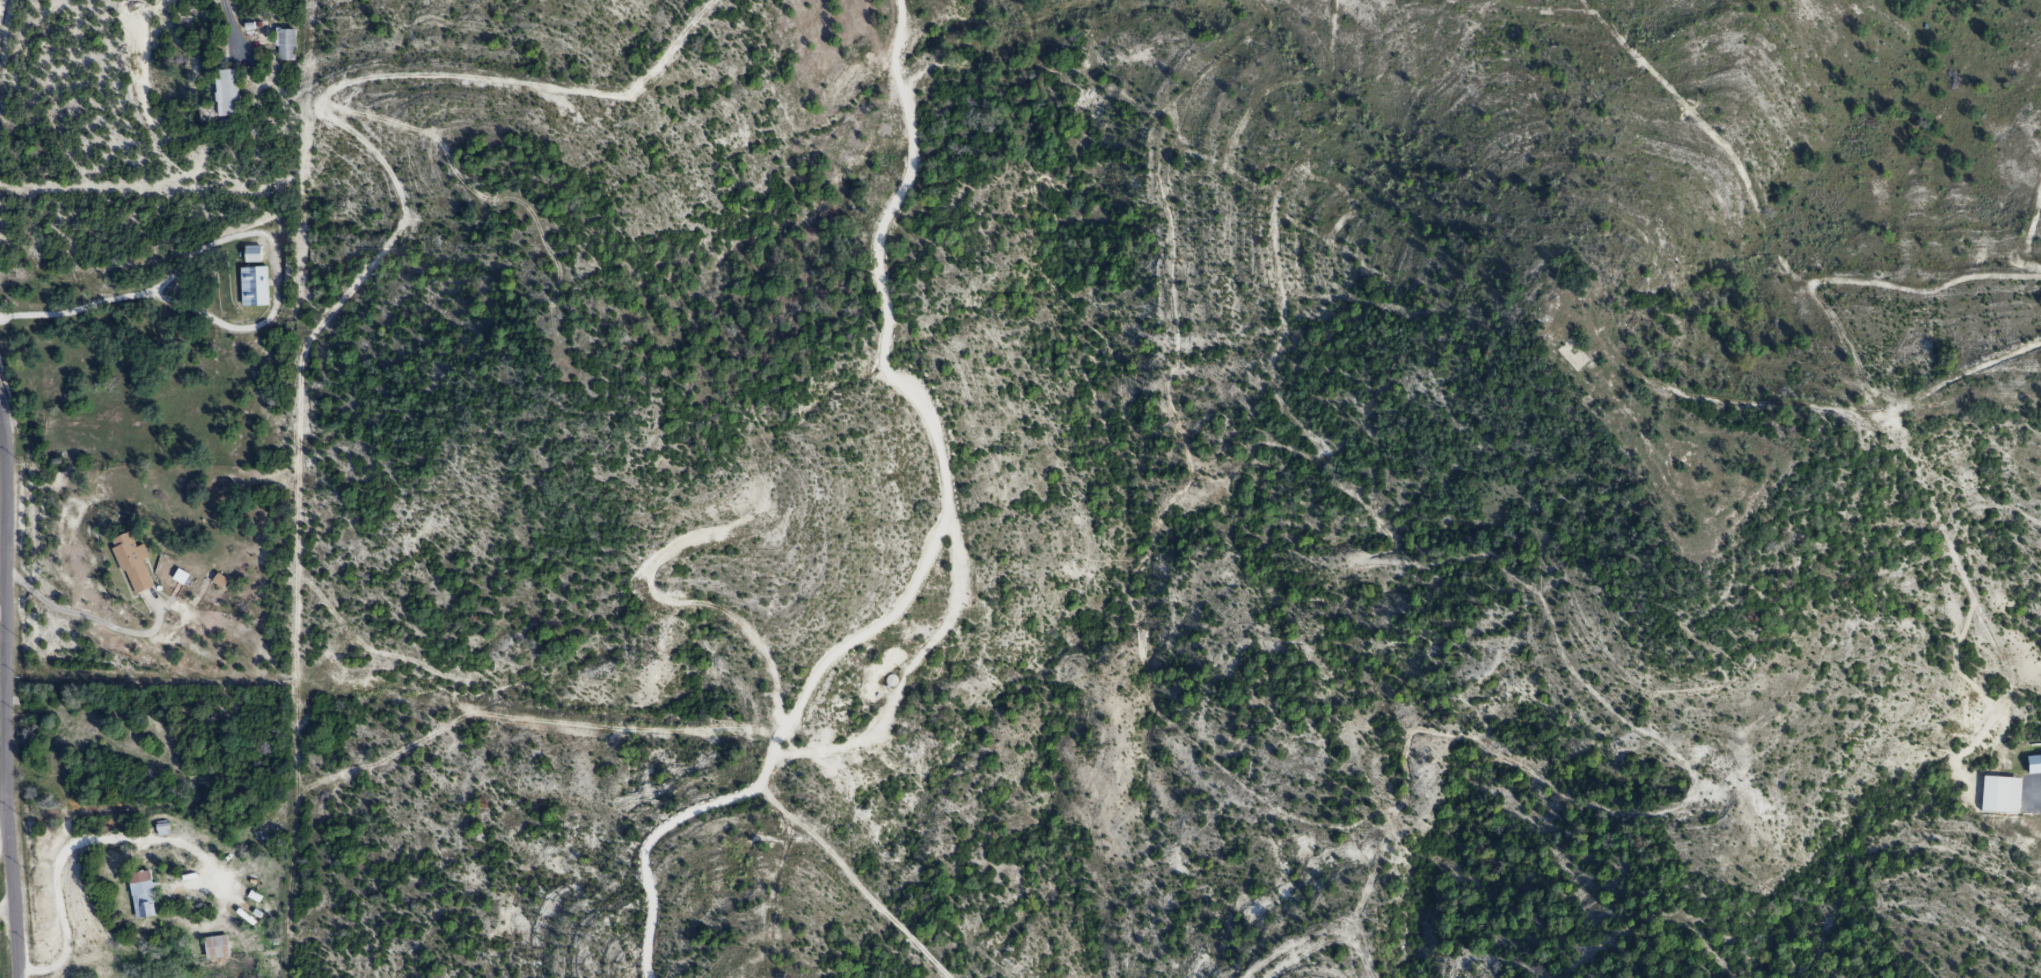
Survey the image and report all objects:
road: (235, 25)
building: (285, 46)
building: (226, 94)
building: (252, 256)
building: (253, 288)
road: (935, 542)
building: (132, 565)
road: (1, 614)
road: (84, 617)
road: (5, 696)
road: (646, 844)
road: (67, 852)
building: (141, 897)
road: (7, 907)
building: (216, 949)

